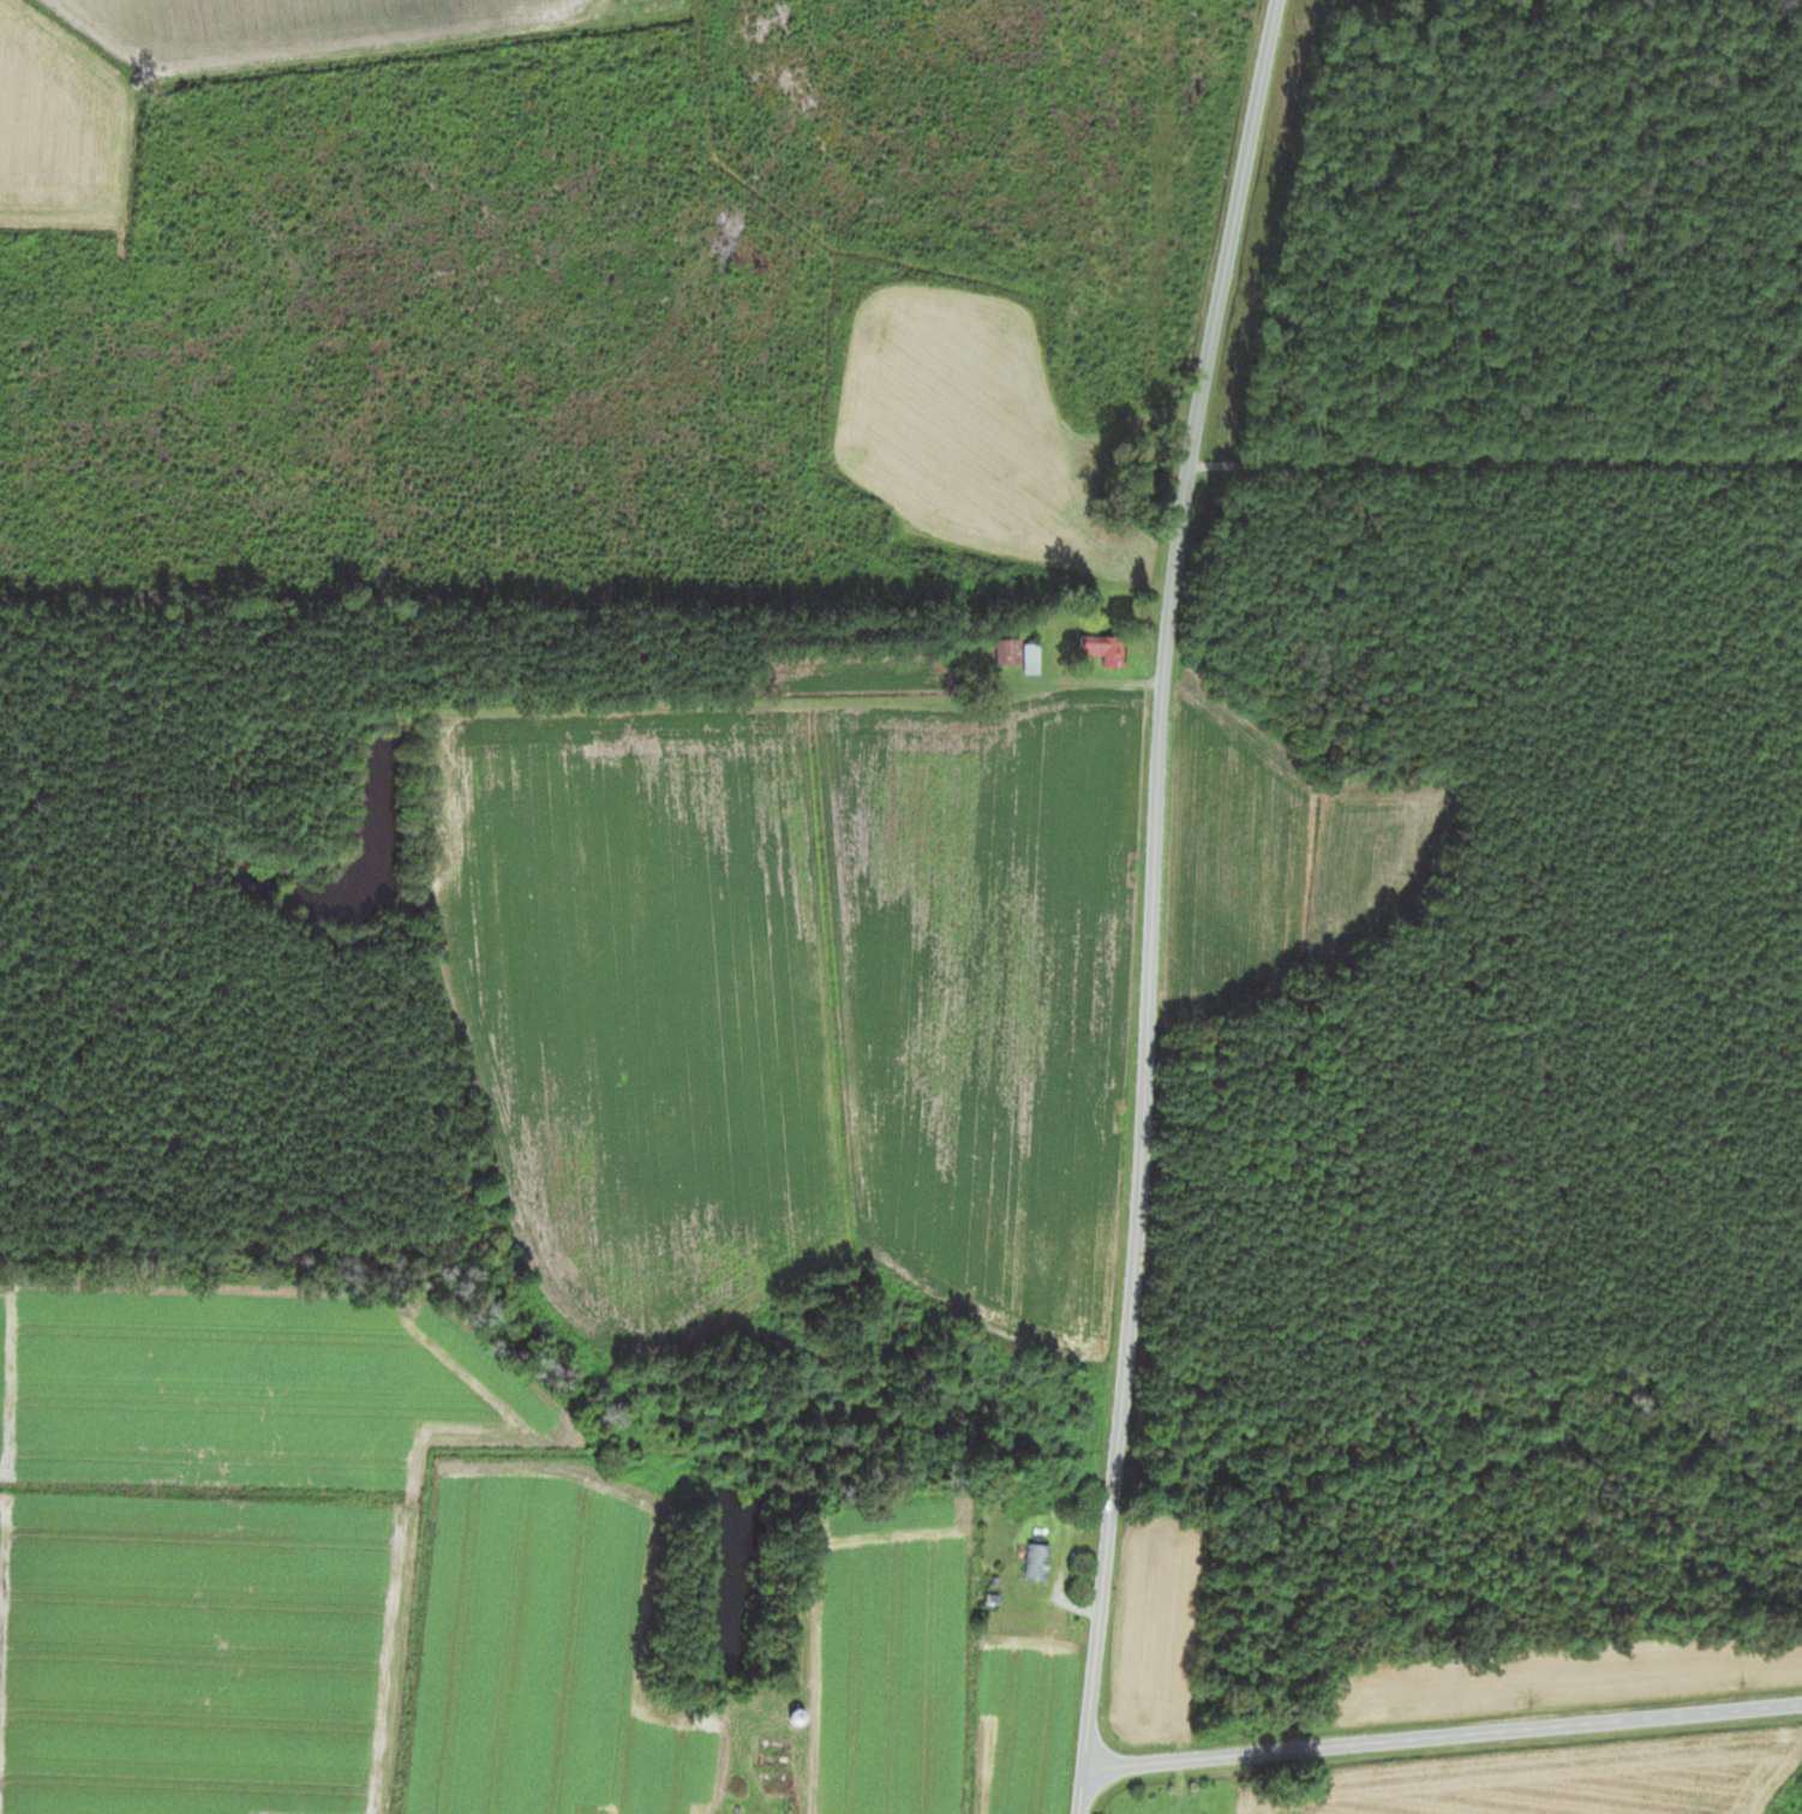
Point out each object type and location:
building: (1104, 649)
building: (1013, 652)
building: (1032, 659)
road: (1145, 902)
building: (1038, 1561)
road: (1436, 1720)

